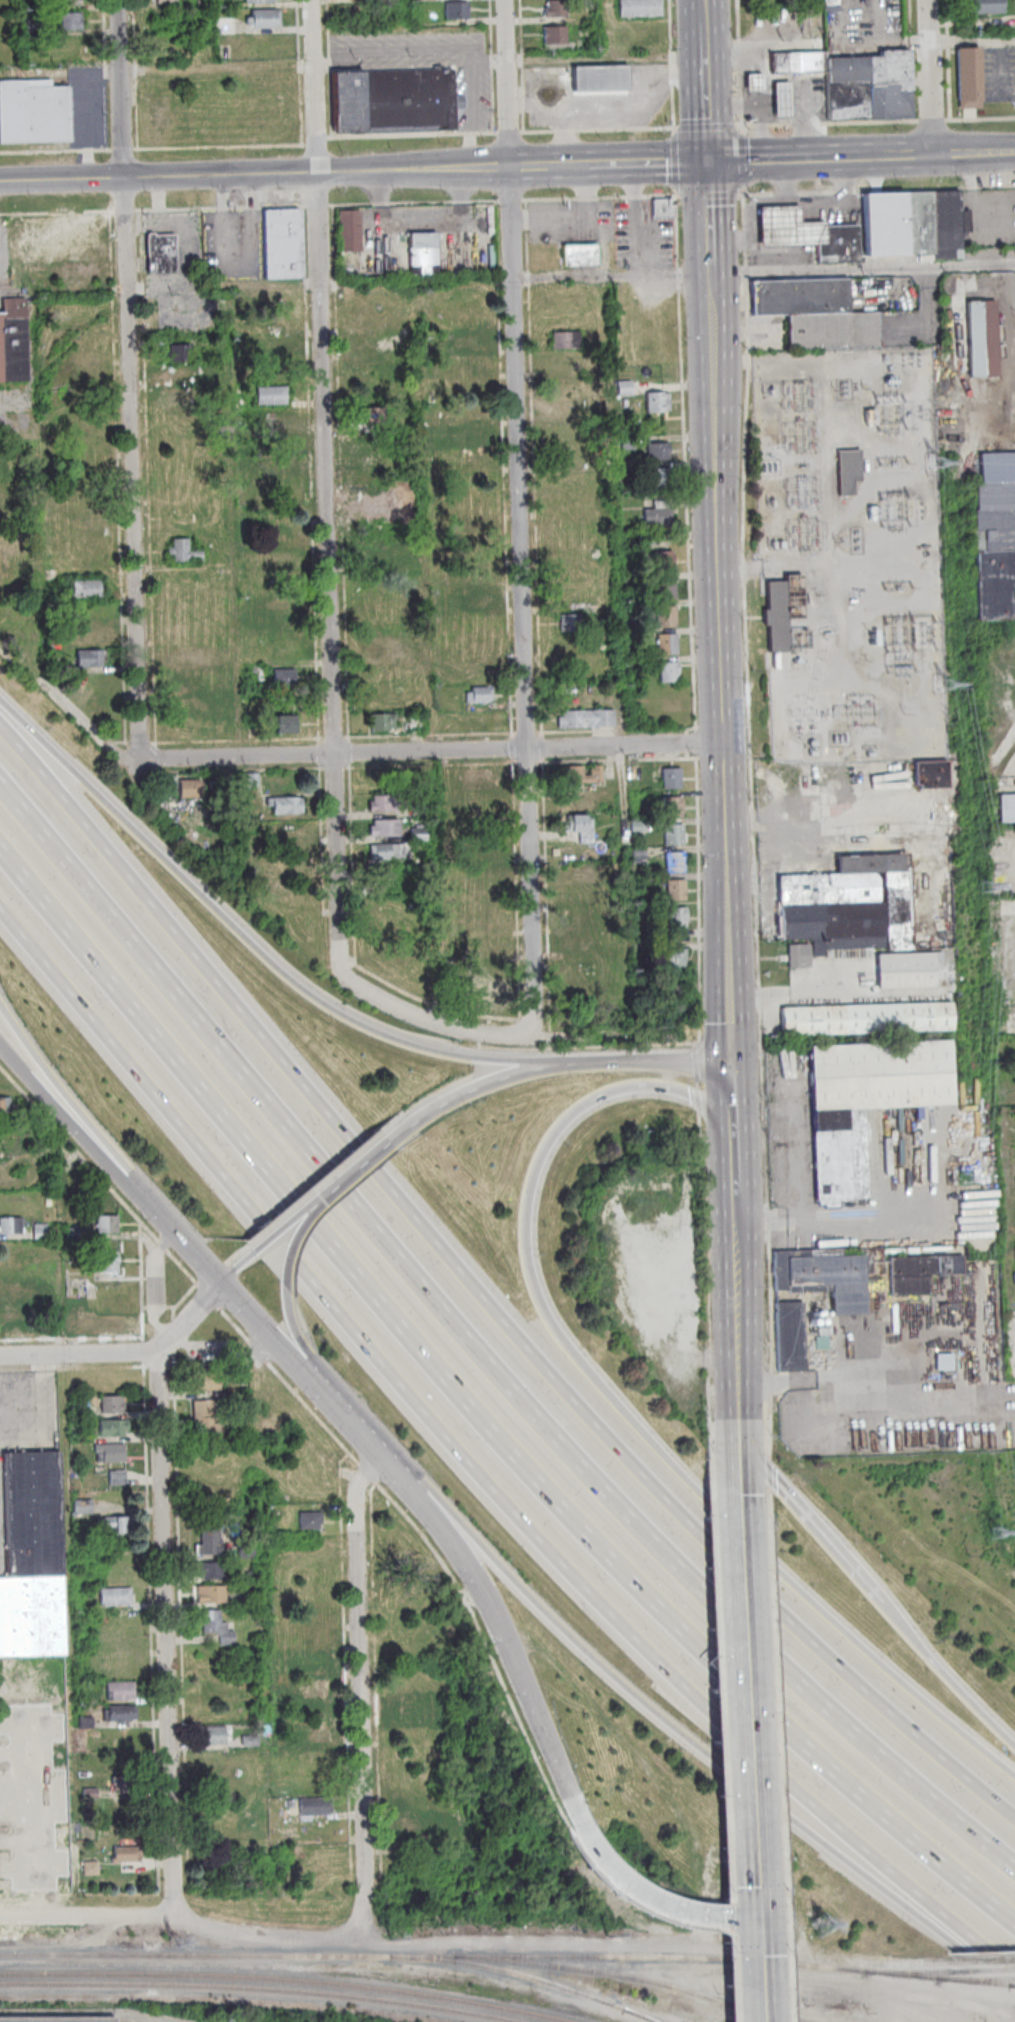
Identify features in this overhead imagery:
building: (392, 0)
building: (424, 0)
building: (166, 1)
building: (260, 1)
building: (70, 2)
building: (227, 2)
building: (202, 3)
building: (986, 6)
building: (557, 8)
building: (640, 8)
building: (457, 10)
building: (265, 19)
building: (71, 21)
building: (228, 25)
road: (601, 28)
park: (11, 34)
building: (556, 35)
road: (970, 39)
road: (882, 42)
road: (761, 47)
road: (510, 59)
road: (948, 60)
road: (911, 61)
building: (799, 62)
road: (522, 66)
road: (672, 67)
road: (740, 68)
road: (157, 69)
building: (847, 69)
road: (300, 72)
road: (107, 74)
road: (137, 74)
parking lot: (997, 75)
road: (764, 76)
road: (928, 77)
building: (969, 78)
building: (600, 79)
road: (706, 81)
building: (754, 82)
building: (890, 85)
building: (782, 99)
building: (394, 102)
road: (783, 104)
road: (767, 105)
road: (759, 107)
road: (615, 108)
parking lot: (590, 111)
building: (34, 112)
road: (468, 113)
traffic signals: (708, 119)
road: (979, 119)
road: (932, 121)
road: (827, 123)
road: (804, 125)
road: (707, 127)
road: (600, 130)
road: (510, 133)
road: (413, 135)
road: (566, 137)
road: (316, 141)
road: (220, 147)
road: (675, 148)
road: (743, 148)
road: (123, 149)
road: (56, 151)
road: (973, 153)
road: (908, 155)
road: (857, 157)
road: (768, 159)
traffic signals: (750, 160)
road: (650, 163)
traffic signals: (669, 163)
road: (570, 165)
road: (530, 166)
road: (255, 173)
road: (507, 199)
traffic signals: (711, 204)
building: (663, 208)
road: (640, 218)
road: (578, 220)
building: (914, 223)
building: (788, 227)
building: (349, 231)
building: (64, 237)
road: (711, 240)
building: (281, 242)
building: (837, 244)
building: (160, 253)
building: (424, 253)
building: (581, 255)
parking lot: (3, 259)
road: (863, 269)
road: (419, 279)
building: (799, 297)
building: (833, 330)
building: (982, 338)
building: (13, 341)
building: (462, 341)
building: (567, 341)
building: (274, 346)
building: (179, 351)
road: (789, 360)
road: (734, 362)
building: (179, 368)
road: (848, 369)
road: (129, 379)
building: (625, 388)
building: (272, 396)
building: (657, 402)
road: (16, 407)
parking lot: (18, 411)
building: (373, 415)
building: (466, 436)
building: (628, 444)
building: (658, 451)
power tower: (932, 460)
building: (850, 470)
building: (661, 479)
building: (996, 494)
building: (4, 495)
road: (521, 518)
building: (658, 518)
building: (280, 536)
building: (648, 539)
road: (329, 541)
building: (995, 542)
building: (246, 545)
building: (183, 552)
power substation: (849, 553)
building: (378, 557)
building: (664, 562)
road: (845, 566)
road: (741, 569)
building: (996, 585)
building: (86, 589)
building: (665, 589)
building: (474, 600)
road: (831, 607)
building: (270, 609)
building: (666, 616)
building: (778, 616)
building: (571, 623)
building: (89, 634)
building: (667, 645)
building: (89, 659)
building: (632, 664)
building: (669, 672)
road: (790, 677)
building: (284, 678)
building: (186, 679)
power tower: (940, 681)
road: (721, 689)
building: (480, 695)
road: (67, 711)
building: (586, 719)
building: (416, 721)
building: (383, 723)
building: (285, 725)
road: (430, 750)
building: (931, 773)
building: (582, 776)
building: (479, 778)
building: (671, 779)
building: (194, 787)
building: (285, 804)
building: (384, 804)
building: (673, 808)
building: (419, 810)
building: (1007, 810)
building: (190, 812)
building: (638, 827)
building: (582, 828)
building: (288, 829)
building: (384, 829)
building: (419, 835)
building: (674, 835)
building: (482, 845)
building: (386, 852)
building: (639, 856)
building: (675, 863)
power tower: (984, 887)
building: (675, 891)
building: (875, 894)
building: (676, 919)
building: (577, 935)
road: (258, 945)
building: (798, 959)
building: (673, 960)
building: (907, 970)
building: (581, 982)
building: (483, 990)
road: (801, 996)
building: (867, 1020)
road: (487, 1033)
traffic signals: (731, 1059)
road: (552, 1066)
building: (881, 1077)
road: (674, 1091)
road: (731, 1091)
road: (66, 1099)
building: (7, 1106)
road: (68, 1121)
building: (8, 1146)
road: (373, 1155)
building: (839, 1157)
road: (733, 1172)
power tower: (966, 1179)
building: (49, 1203)
road: (305, 1210)
building: (107, 1225)
road: (312, 1226)
building: (12, 1227)
road: (832, 1228)
building: (41, 1232)
building: (75, 1234)
road: (179, 1237)
building: (7, 1249)
building: (109, 1263)
road: (238, 1266)
building: (919, 1274)
building: (823, 1276)
road: (155, 1288)
road: (480, 1290)
building: (14, 1297)
building: (72, 1315)
road: (192, 1317)
road: (291, 1317)
building: (102, 1323)
road: (735, 1330)
road: (268, 1333)
building: (789, 1336)
road: (481, 1346)
road: (80, 1352)
road: (220, 1355)
building: (943, 1361)
road: (308, 1362)
building: (207, 1383)
road: (875, 1388)
building: (222, 1396)
building: (112, 1406)
road: (477, 1406)
building: (203, 1410)
building: (113, 1429)
building: (207, 1432)
road: (365, 1435)
traffic signals: (737, 1438)
building: (111, 1453)
road: (737, 1456)
road: (470, 1463)
road: (676, 1466)
building: (118, 1479)
building: (84, 1507)
building: (276, 1516)
road: (811, 1518)
building: (311, 1521)
building: (116, 1525)
road: (443, 1526)
power tower: (996, 1531)
building: (211, 1543)
building: (33, 1559)
building: (211, 1572)
building: (251, 1579)
building: (209, 1596)
building: (117, 1598)
building: (313, 1616)
building: (218, 1628)
road: (168, 1635)
building: (310, 1639)
building: (310, 1664)
road: (947, 1670)
road: (519, 1679)
building: (217, 1686)
building: (314, 1687)
building: (23, 1688)
road: (359, 1688)
building: (59, 1692)
building: (121, 1693)
building: (120, 1715)
building: (406, 1715)
building: (86, 1723)
building: (317, 1730)
building: (215, 1736)
building: (251, 1742)
road: (706, 1745)
road: (748, 1748)
building: (311, 1758)
building: (125, 1793)
building: (411, 1803)
building: (314, 1808)
building: (410, 1828)
road: (600, 1854)
building: (128, 1856)
building: (91, 1870)
road: (703, 1913)
traffic signals: (754, 1916)
road: (182, 1922)
power tower: (821, 1922)
power tower: (608, 1936)
power tower: (393, 1939)
power tower: (175, 1942)
railway: (482, 1955)
railway: (990, 1960)
railway: (829, 1967)
railway: (996, 1969)
railway: (920, 1971)
railway: (780, 1972)
railway: (622, 1974)
railway: (901, 1974)
railway: (531, 1976)
railway: (961, 1977)
railway: (1000, 1977)
railway: (287, 1978)
railway: (965, 1979)
railway: (1004, 1983)
railway: (1012, 1984)
railway: (262, 1986)
railway: (1012, 1994)
railway: (641, 2013)
railway: (773, 2014)
building: (57, 2019)

